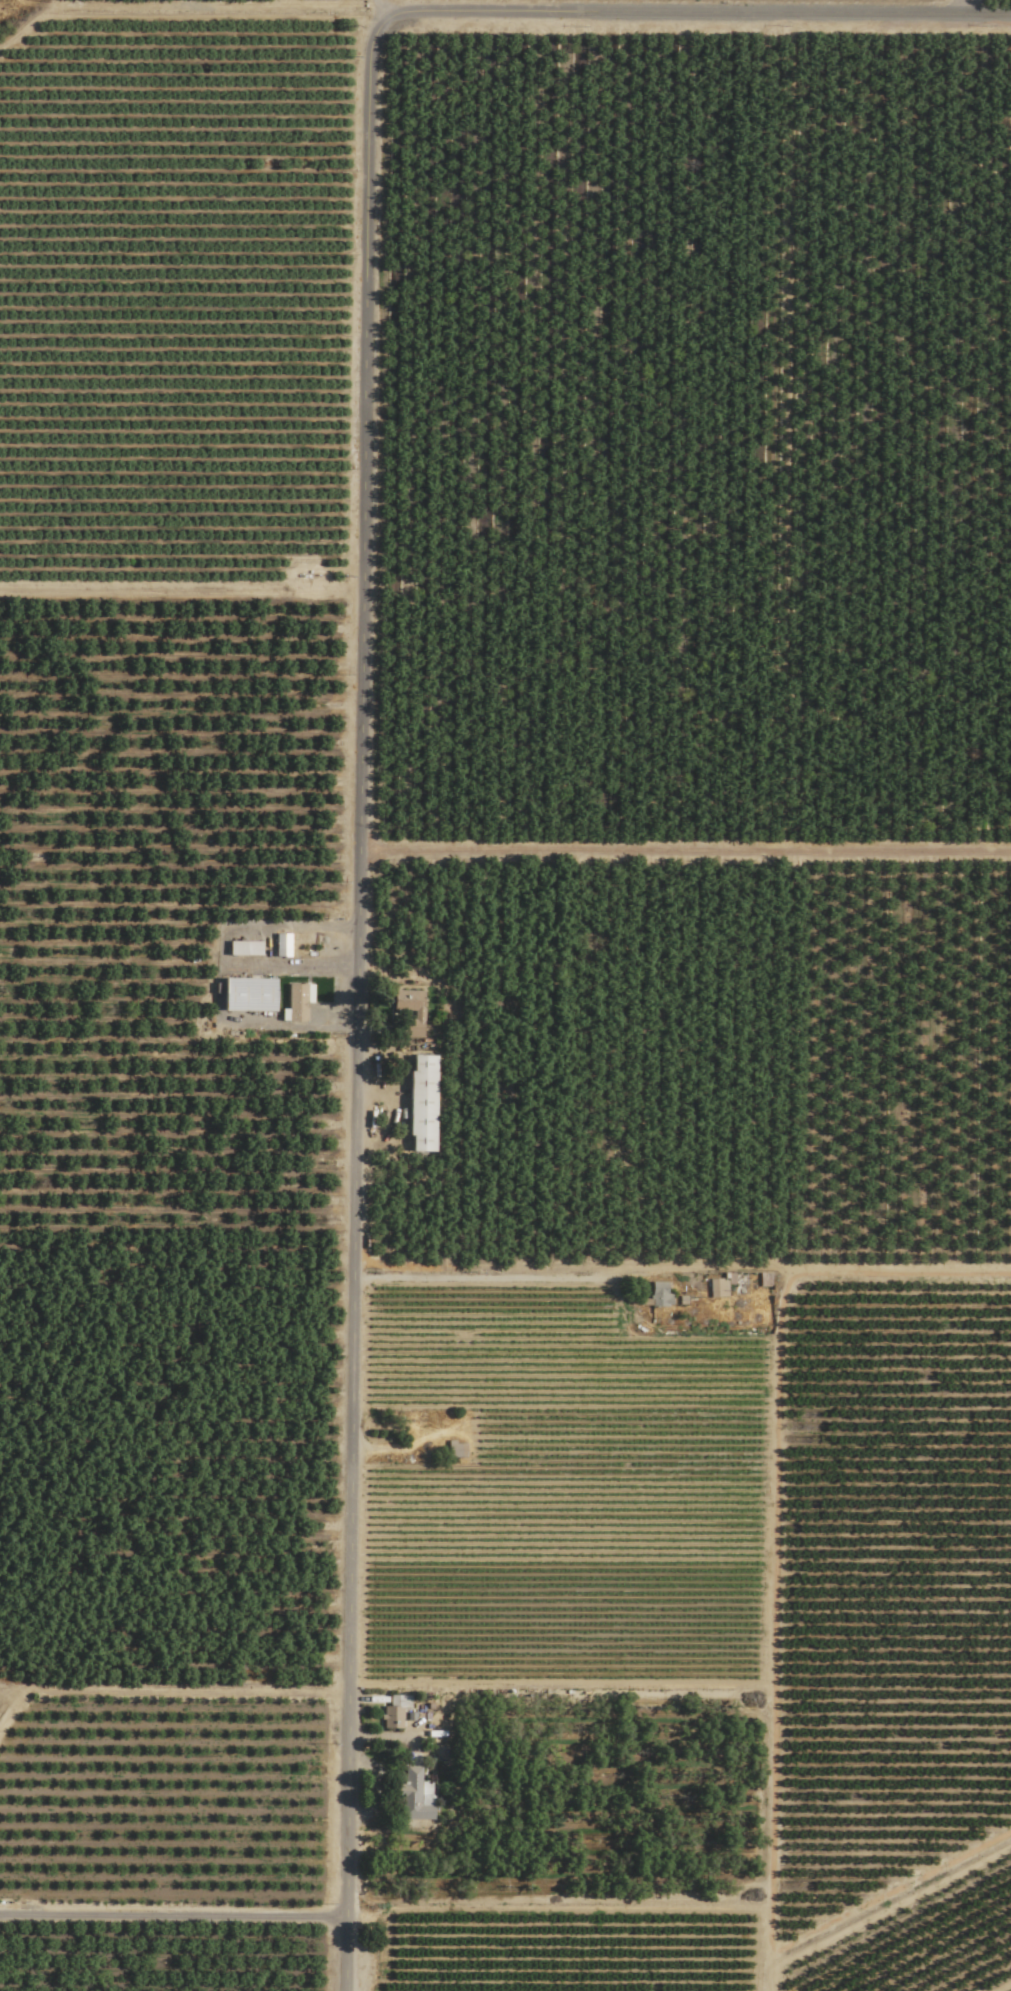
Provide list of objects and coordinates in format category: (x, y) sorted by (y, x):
road: (380, 13)
road: (693, 16)
building: (282, 944)
building: (244, 948)
road: (295, 964)
building: (248, 994)
crop: (505, 995)
road: (354, 1008)
building: (408, 1011)
building: (421, 1103)
building: (717, 1288)
building: (659, 1295)
building: (395, 1709)
building: (413, 1795)
road: (174, 1916)

